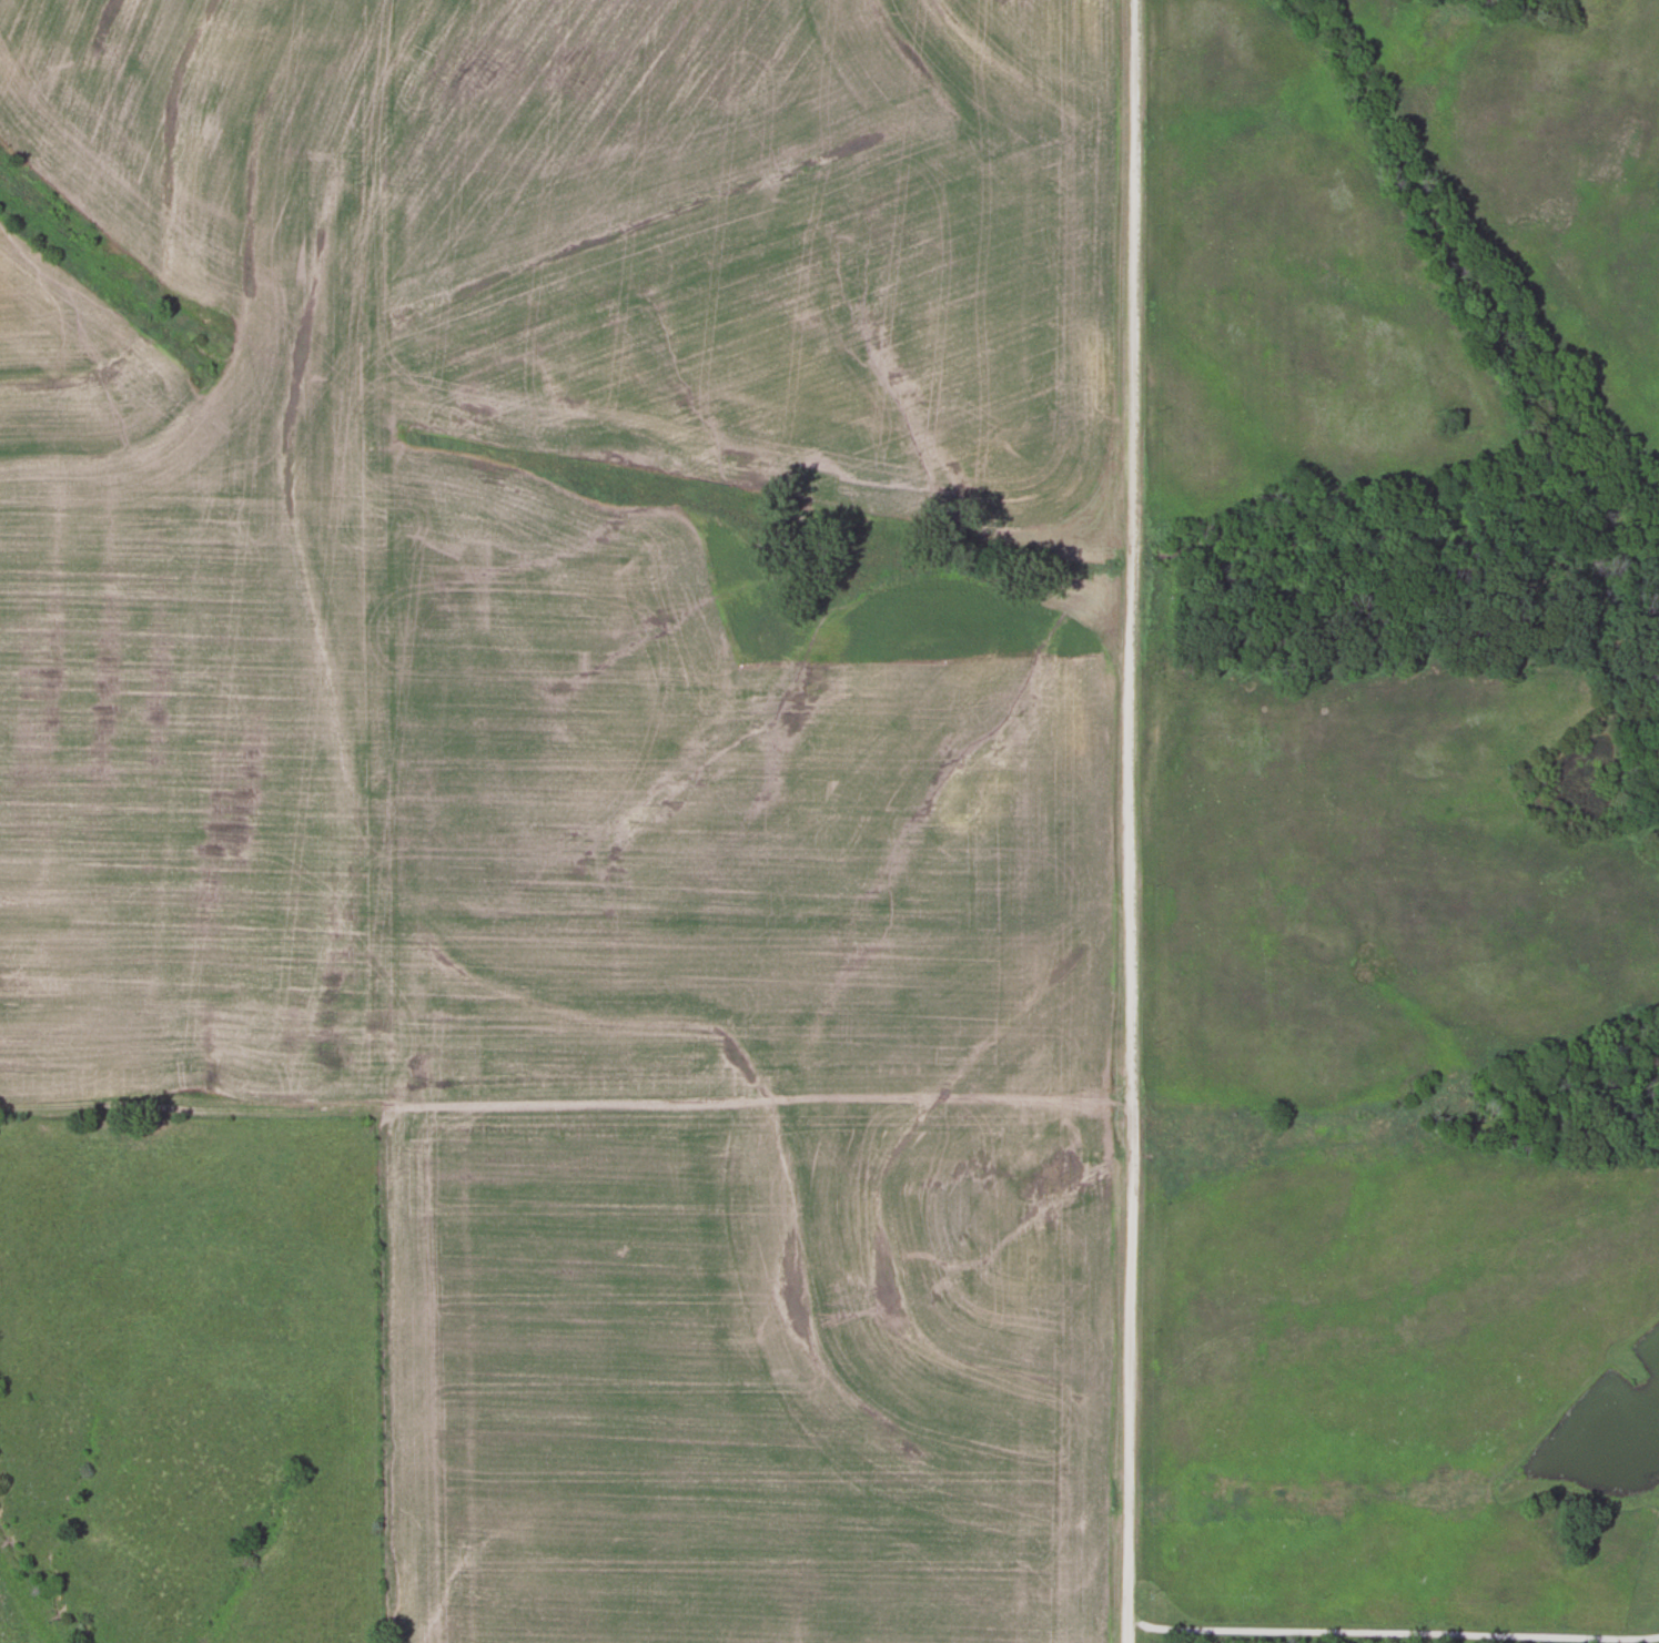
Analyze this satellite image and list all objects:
road: (1132, 821)

